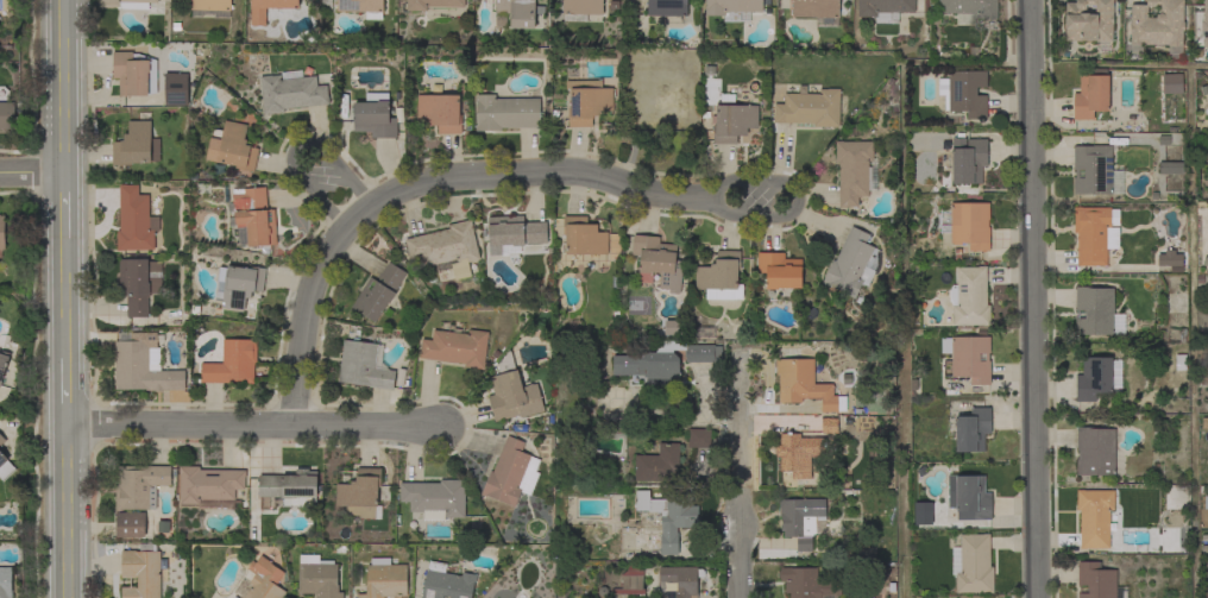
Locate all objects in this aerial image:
building: (130, 5)
building: (434, 6)
building: (210, 7)
building: (361, 7)
building: (667, 7)
building: (580, 8)
building: (732, 8)
building: (885, 8)
building: (968, 10)
building: (817, 11)
building: (514, 13)
building: (257, 17)
building: (1088, 21)
building: (1157, 23)
building: (1204, 24)
building: (134, 74)
building: (1171, 83)
road: (63, 87)
building: (175, 89)
building: (290, 92)
building: (965, 93)
building: (1091, 95)
building: (586, 102)
building: (810, 108)
building: (439, 113)
building: (507, 113)
building: (7, 115)
building: (375, 117)
building: (732, 120)
building: (136, 145)
building: (232, 146)
building: (968, 160)
building: (1170, 168)
building: (1095, 170)
building: (855, 171)
road: (31, 174)
road: (452, 176)
road: (904, 178)
road: (335, 180)
road: (63, 207)
building: (252, 216)
building: (134, 220)
building: (969, 225)
building: (2, 232)
building: (512, 233)
building: (1093, 234)
building: (583, 237)
building: (446, 248)
building: (1172, 259)
building: (656, 262)
building: (851, 264)
building: (779, 270)
building: (721, 277)
building: (138, 284)
building: (238, 284)
building: (378, 291)
road: (64, 295)
building: (969, 297)
road: (1034, 298)
building: (1096, 311)
building: (673, 327)
road: (1190, 331)
building: (455, 347)
building: (968, 358)
building: (4, 361)
building: (663, 361)
building: (232, 363)
building: (141, 364)
building: (364, 365)
building: (1096, 378)
building: (805, 385)
road: (65, 390)
building: (511, 392)
building: (829, 426)
road: (252, 427)
building: (971, 430)
building: (698, 439)
building: (1, 440)
building: (799, 451)
building: (1095, 452)
building: (658, 464)
building: (5, 467)
building: (511, 473)
road: (740, 476)
building: (208, 484)
building: (290, 486)
building: (360, 493)
building: (137, 497)
building: (969, 497)
building: (434, 498)
building: (1204, 503)
building: (214, 504)
road: (67, 514)
building: (920, 514)
building: (1094, 517)
building: (800, 520)
building: (663, 521)
building: (866, 554)
building: (971, 564)
building: (141, 571)
building: (317, 577)
building: (263, 579)
building: (384, 579)
building: (679, 580)
building: (1097, 581)
building: (5, 583)
building: (446, 583)
building: (630, 584)
building: (807, 584)
building: (1206, 592)
building: (232, 597)
building: (234, 597)

